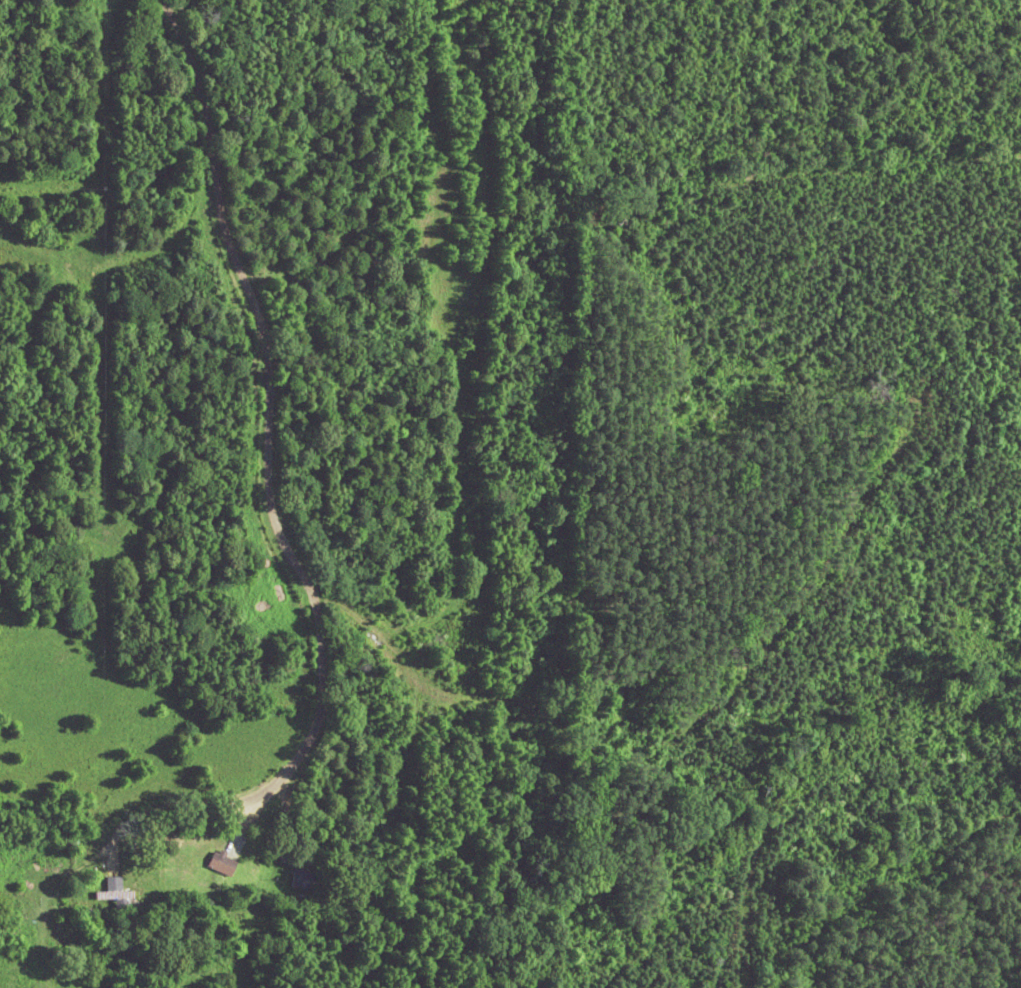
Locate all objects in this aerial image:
road: (212, 472)
building: (221, 865)
building: (302, 881)
building: (117, 897)

